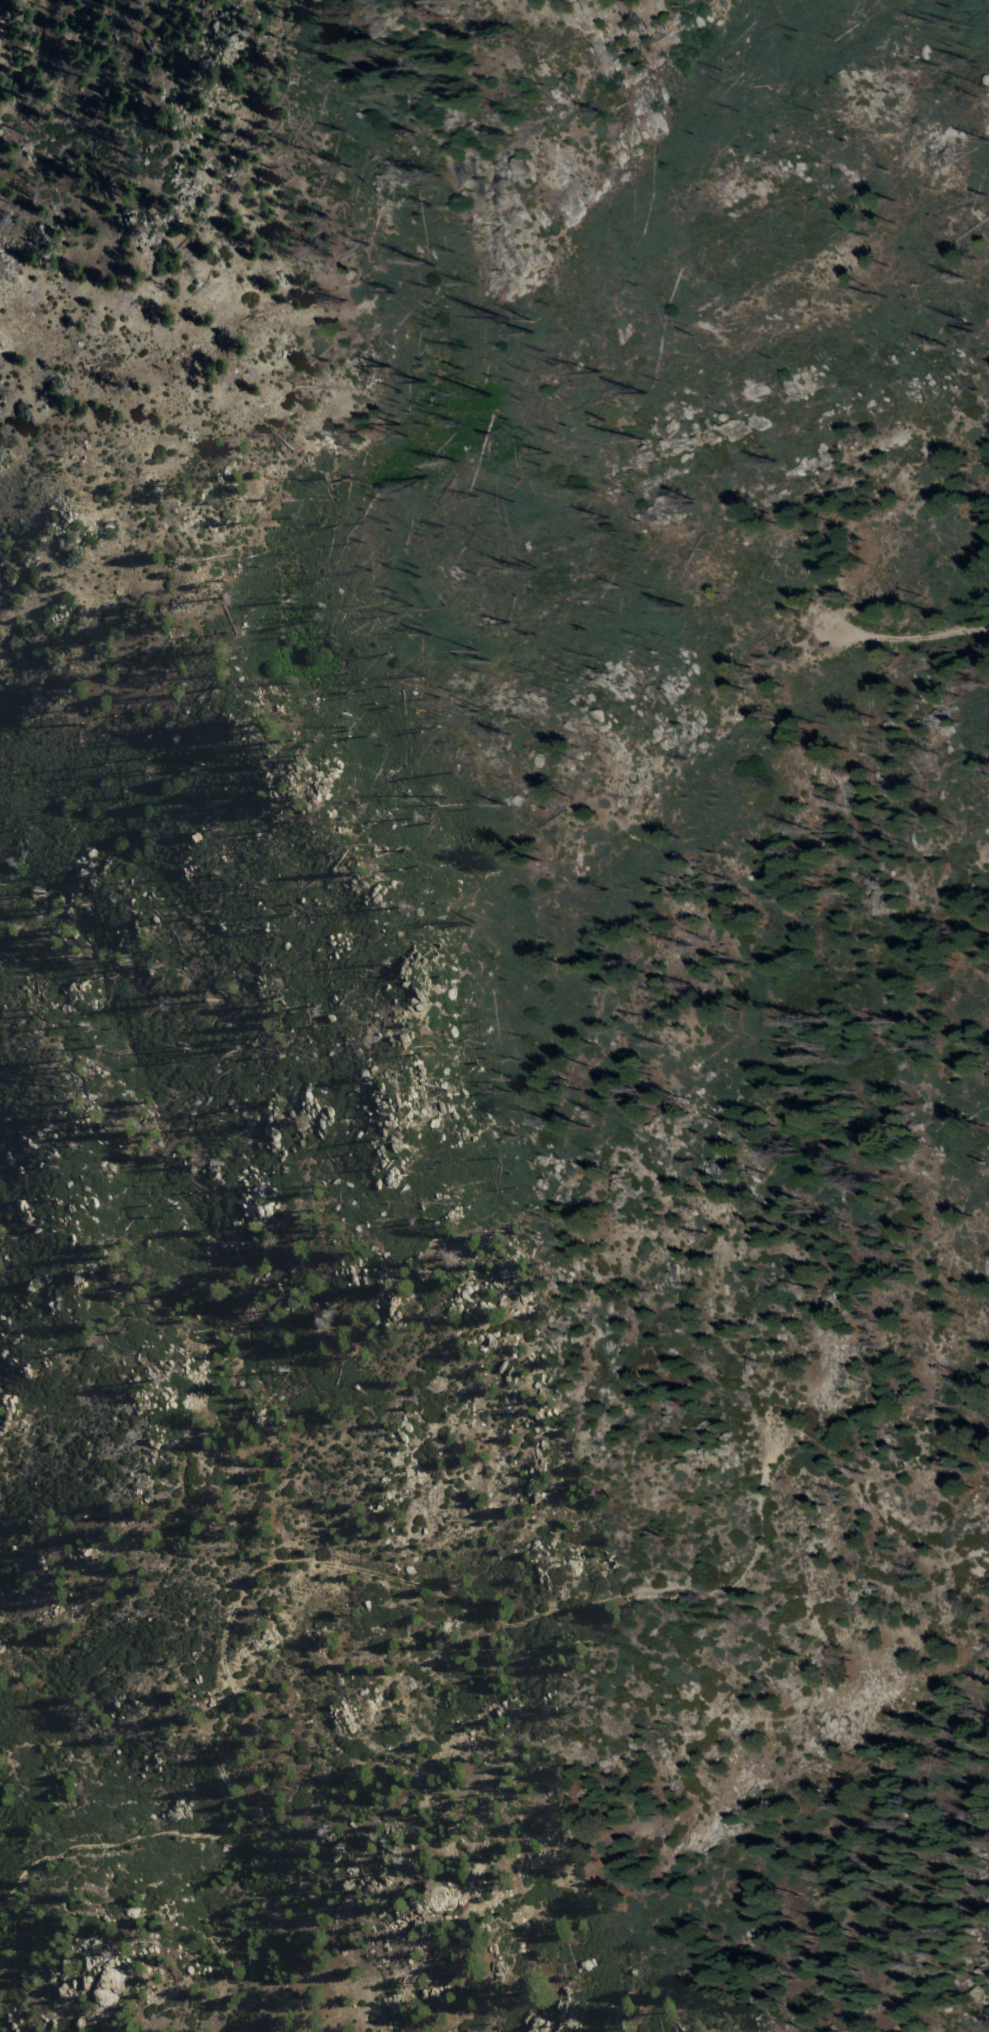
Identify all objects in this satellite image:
road: (902, 617)
road: (324, 1556)

